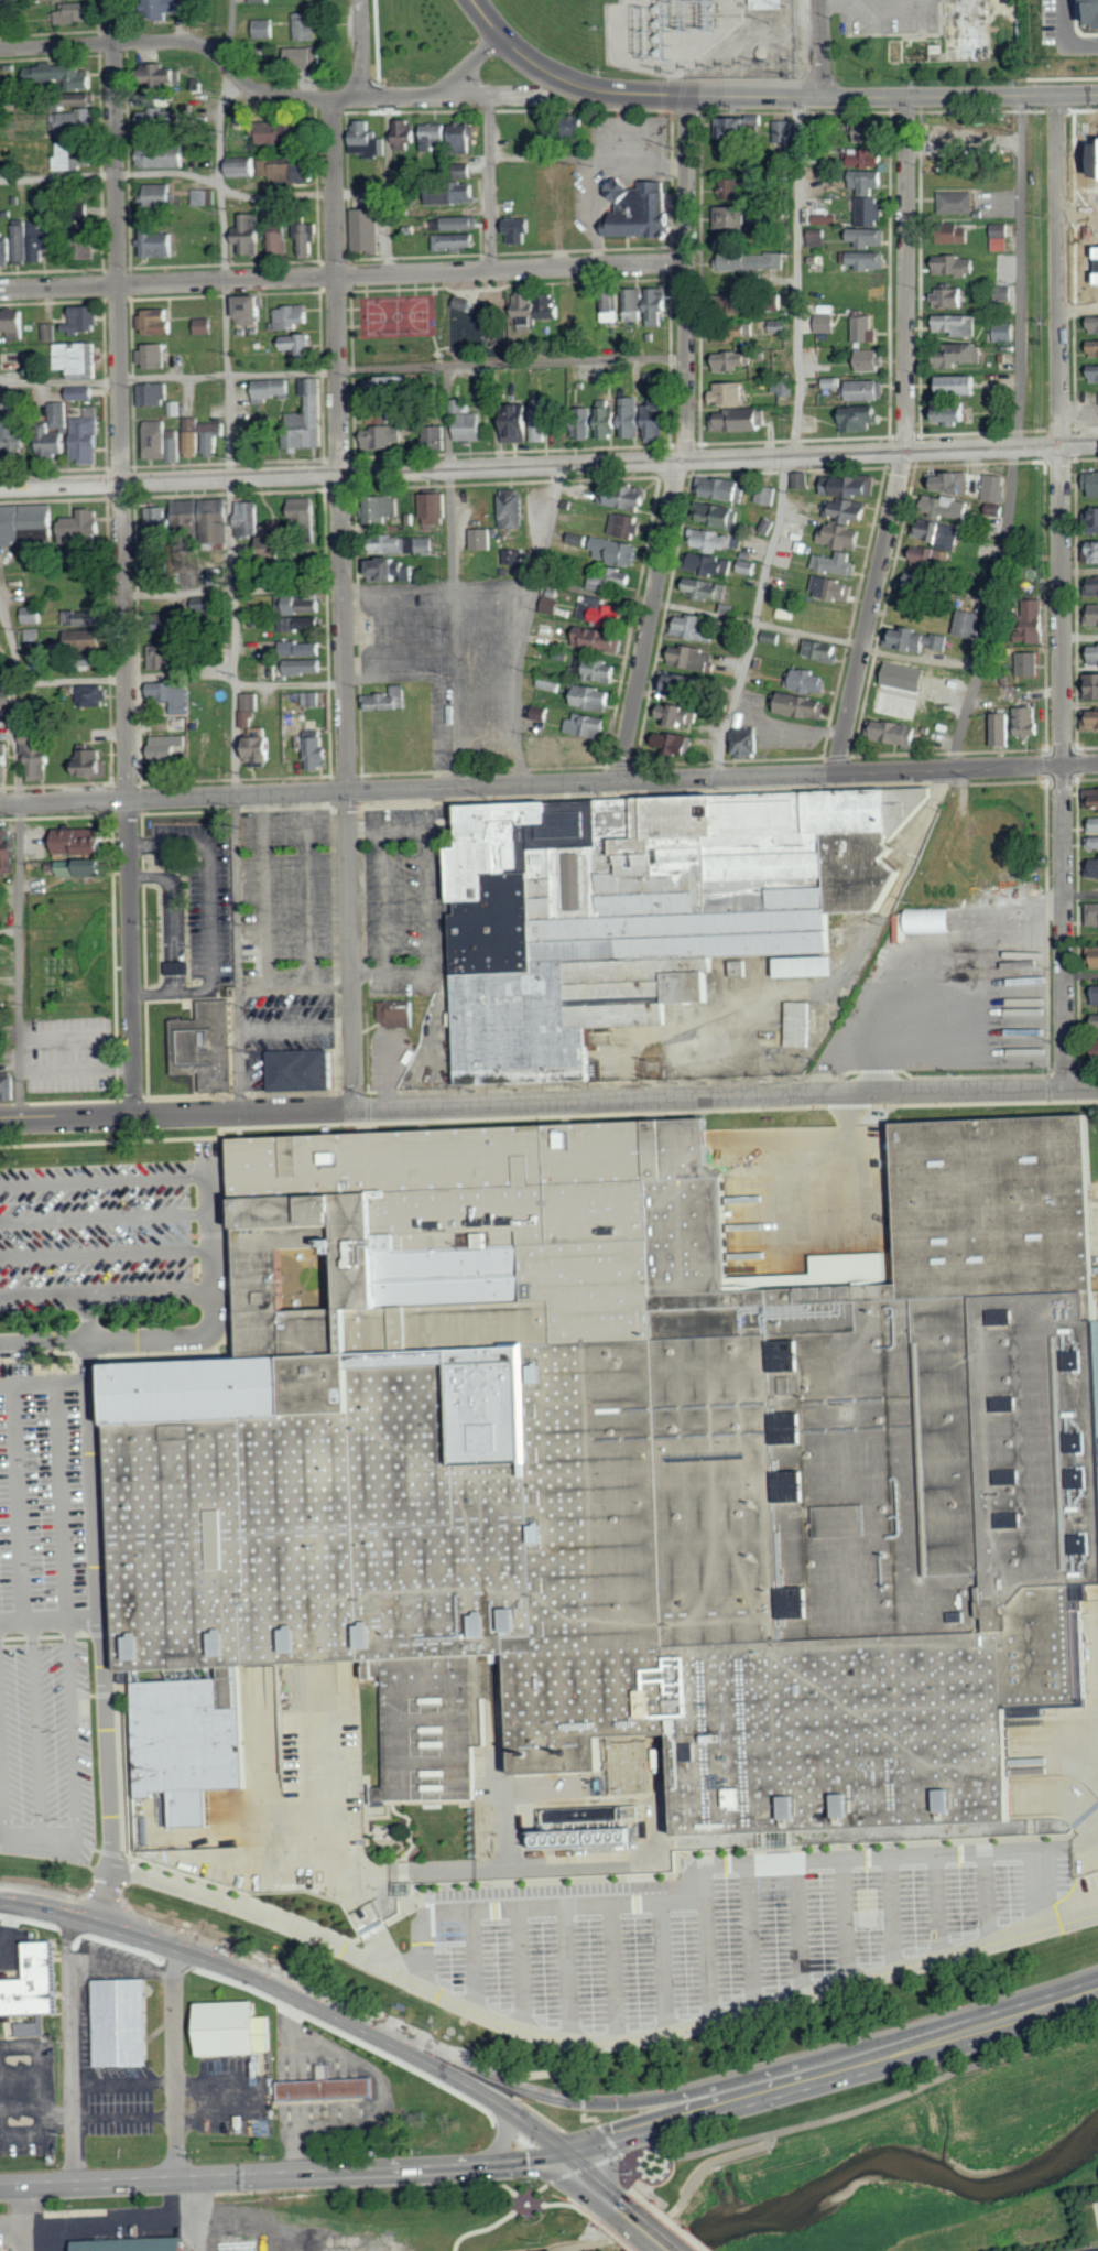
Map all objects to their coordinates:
building: (260, 0)
building: (769, 3)
building: (168, 7)
building: (77, 12)
building: (1088, 12)
building: (307, 25)
building: (264, 29)
building: (950, 35)
road: (1067, 35)
power substation: (705, 37)
road: (514, 47)
road: (822, 48)
road: (361, 50)
building: (304, 56)
road: (474, 63)
building: (63, 75)
building: (165, 75)
road: (240, 78)
road: (519, 95)
road: (831, 97)
building: (79, 102)
building: (161, 111)
building: (73, 122)
building: (735, 127)
building: (280, 131)
building: (783, 131)
building: (870, 131)
building: (814, 133)
building: (407, 136)
building: (450, 136)
building: (370, 139)
building: (68, 155)
building: (166, 155)
building: (873, 158)
building: (244, 169)
building: (290, 170)
building: (465, 171)
road: (197, 176)
building: (870, 181)
road: (490, 182)
road: (388, 186)
building: (733, 188)
building: (455, 193)
building: (159, 195)
building: (202, 197)
building: (958, 202)
building: (641, 209)
building: (871, 210)
building: (736, 218)
building: (458, 223)
building: (369, 226)
building: (521, 229)
building: (251, 232)
building: (960, 234)
building: (89, 237)
building: (870, 237)
building: (1002, 237)
building: (307, 238)
building: (458, 239)
building: (281, 241)
building: (37, 242)
building: (159, 242)
building: (7, 251)
building: (868, 259)
building: (751, 260)
building: (955, 264)
road: (1021, 272)
road: (344, 277)
building: (952, 296)
building: (460, 301)
building: (635, 304)
building: (659, 305)
building: (613, 306)
building: (537, 309)
road: (1079, 309)
building: (253, 310)
park: (395, 314)
building: (294, 316)
building: (85, 318)
park: (426, 321)
building: (17, 322)
building: (159, 322)
building: (1095, 323)
building: (957, 324)
building: (206, 325)
building: (781, 325)
building: (867, 329)
building: (1007, 331)
building: (50, 332)
building: (725, 334)
building: (301, 344)
building: (1095, 348)
building: (959, 354)
building: (154, 356)
building: (79, 359)
building: (732, 360)
building: (872, 360)
road: (343, 369)
building: (1094, 372)
building: (961, 385)
building: (383, 386)
building: (273, 389)
building: (866, 390)
building: (84, 392)
building: (733, 393)
building: (155, 394)
building: (955, 413)
building: (313, 416)
building: (379, 418)
building: (634, 419)
building: (862, 419)
building: (741, 420)
building: (531, 421)
building: (469, 422)
building: (584, 429)
building: (58, 432)
building: (439, 434)
building: (19, 436)
building: (205, 437)
building: (385, 437)
road: (905, 439)
building: (89, 440)
road: (685, 441)
building: (164, 442)
road: (793, 442)
road: (548, 466)
building: (800, 480)
building: (949, 481)
building: (1094, 481)
building: (849, 485)
building: (722, 488)
building: (997, 488)
building: (626, 496)
building: (767, 496)
building: (949, 507)
building: (383, 509)
building: (437, 509)
building: (848, 510)
building: (514, 511)
building: (305, 513)
building: (724, 516)
building: (207, 517)
building: (251, 519)
building: (28, 523)
building: (627, 526)
building: (85, 527)
building: (157, 527)
building: (941, 533)
building: (842, 537)
building: (483, 539)
building: (720, 540)
building: (399, 544)
building: (426, 545)
building: (1095, 550)
building: (617, 551)
road: (231, 554)
building: (517, 555)
road: (123, 556)
building: (928, 556)
building: (837, 563)
building: (709, 564)
building: (747, 567)
road: (1079, 569)
building: (390, 571)
building: (157, 575)
building: (218, 576)
road: (449, 576)
building: (617, 580)
road: (555, 583)
building: (921, 583)
building: (1096, 586)
building: (708, 588)
building: (834, 588)
road: (1062, 592)
road: (343, 604)
building: (553, 605)
road: (991, 610)
building: (303, 612)
building: (607, 614)
building: (32, 615)
building: (1094, 615)
building: (193, 616)
building: (85, 618)
building: (970, 624)
road: (525, 625)
building: (1036, 625)
building: (697, 627)
road: (1080, 636)
building: (600, 639)
building: (87, 640)
building: (917, 640)
building: (305, 648)
building: (822, 650)
building: (1095, 653)
building: (172, 654)
building: (691, 657)
building: (1030, 664)
building: (307, 667)
building: (600, 669)
road: (173, 675)
building: (909, 677)
building: (808, 681)
building: (681, 684)
building: (1094, 686)
building: (94, 695)
road: (1015, 695)
building: (173, 696)
building: (593, 697)
building: (389, 700)
building: (803, 705)
building: (250, 708)
building: (678, 715)
building: (1091, 718)
building: (1028, 722)
building: (590, 725)
building: (1002, 729)
building: (895, 733)
building: (749, 742)
building: (676, 743)
building: (267, 749)
building: (581, 749)
building: (168, 751)
building: (318, 754)
building: (40, 758)
building: (6, 762)
building: (98, 764)
road: (548, 784)
building: (1095, 800)
building: (1094, 825)
building: (80, 842)
building: (1094, 842)
building: (11, 849)
road: (18, 862)
building: (85, 867)
building: (1092, 867)
road: (209, 883)
parking lot: (404, 885)
parking lot: (202, 890)
road: (308, 891)
road: (264, 892)
road: (1080, 894)
parking lot: (286, 897)
road: (384, 902)
road: (428, 902)
building: (642, 908)
building: (1094, 915)
road: (174, 916)
building: (924, 922)
road: (8, 932)
building: (1095, 957)
building: (176, 968)
road: (1080, 973)
road: (819, 984)
road: (241, 991)
building: (1095, 995)
parking lot: (956, 998)
building: (395, 1014)
building: (800, 1024)
road: (295, 1028)
road: (65, 1037)
building: (206, 1045)
parking lot: (67, 1052)
parking lot: (387, 1059)
road: (75, 1065)
building: (297, 1069)
road: (389, 1070)
road: (548, 1104)
road: (433, 1119)
road: (110, 1140)
building: (879, 1162)
road: (848, 1164)
road: (106, 1179)
road: (107, 1214)
parking lot: (100, 1236)
road: (108, 1252)
building: (852, 1265)
road: (109, 1289)
road: (216, 1313)
road: (89, 1317)
road: (46, 1382)
building: (626, 1475)
road: (62, 1500)
road: (19, 1501)
parking lot: (46, 1616)
road: (52, 1617)
road: (36, 1734)
road: (73, 1735)
road: (2, 1789)
road: (334, 1829)
road: (59, 1851)
road: (1040, 1883)
road: (703, 1885)
road: (988, 1892)
road: (108, 1895)
road: (936, 1900)
road: (37, 1907)
road: (892, 1907)
road: (845, 1915)
road: (798, 1924)
road: (10, 1928)
road: (313, 1931)
road: (751, 1931)
parking lot: (724, 1935)
parking lot: (11, 1945)
road: (200, 1954)
road: (706, 1957)
road: (474, 1959)
road: (521, 1965)
road: (662, 1965)
road: (121, 1966)
road: (566, 1969)
road: (613, 1970)
building: (31, 1983)
road: (347, 1996)
building: (119, 2022)
building: (230, 2028)
road: (72, 2049)
road: (174, 2063)
road: (449, 2075)
road: (831, 2075)
road: (37, 2079)
road: (214, 2079)
building: (324, 2088)
road: (380, 2096)
road: (609, 2101)
road: (863, 2109)
road: (124, 2117)
road: (26, 2132)
traffic signals: (568, 2161)
river: (884, 2162)
road: (576, 2172)
road: (284, 2176)
road: (596, 2183)
road: (480, 2186)
road: (638, 2189)
road: (529, 2196)
road: (25, 2205)
road: (670, 2212)
road: (112, 2219)
road: (496, 2225)
road: (680, 2226)
road: (650, 2229)
road: (28, 2237)
building: (131, 2243)
parking lot: (1088, 2249)

